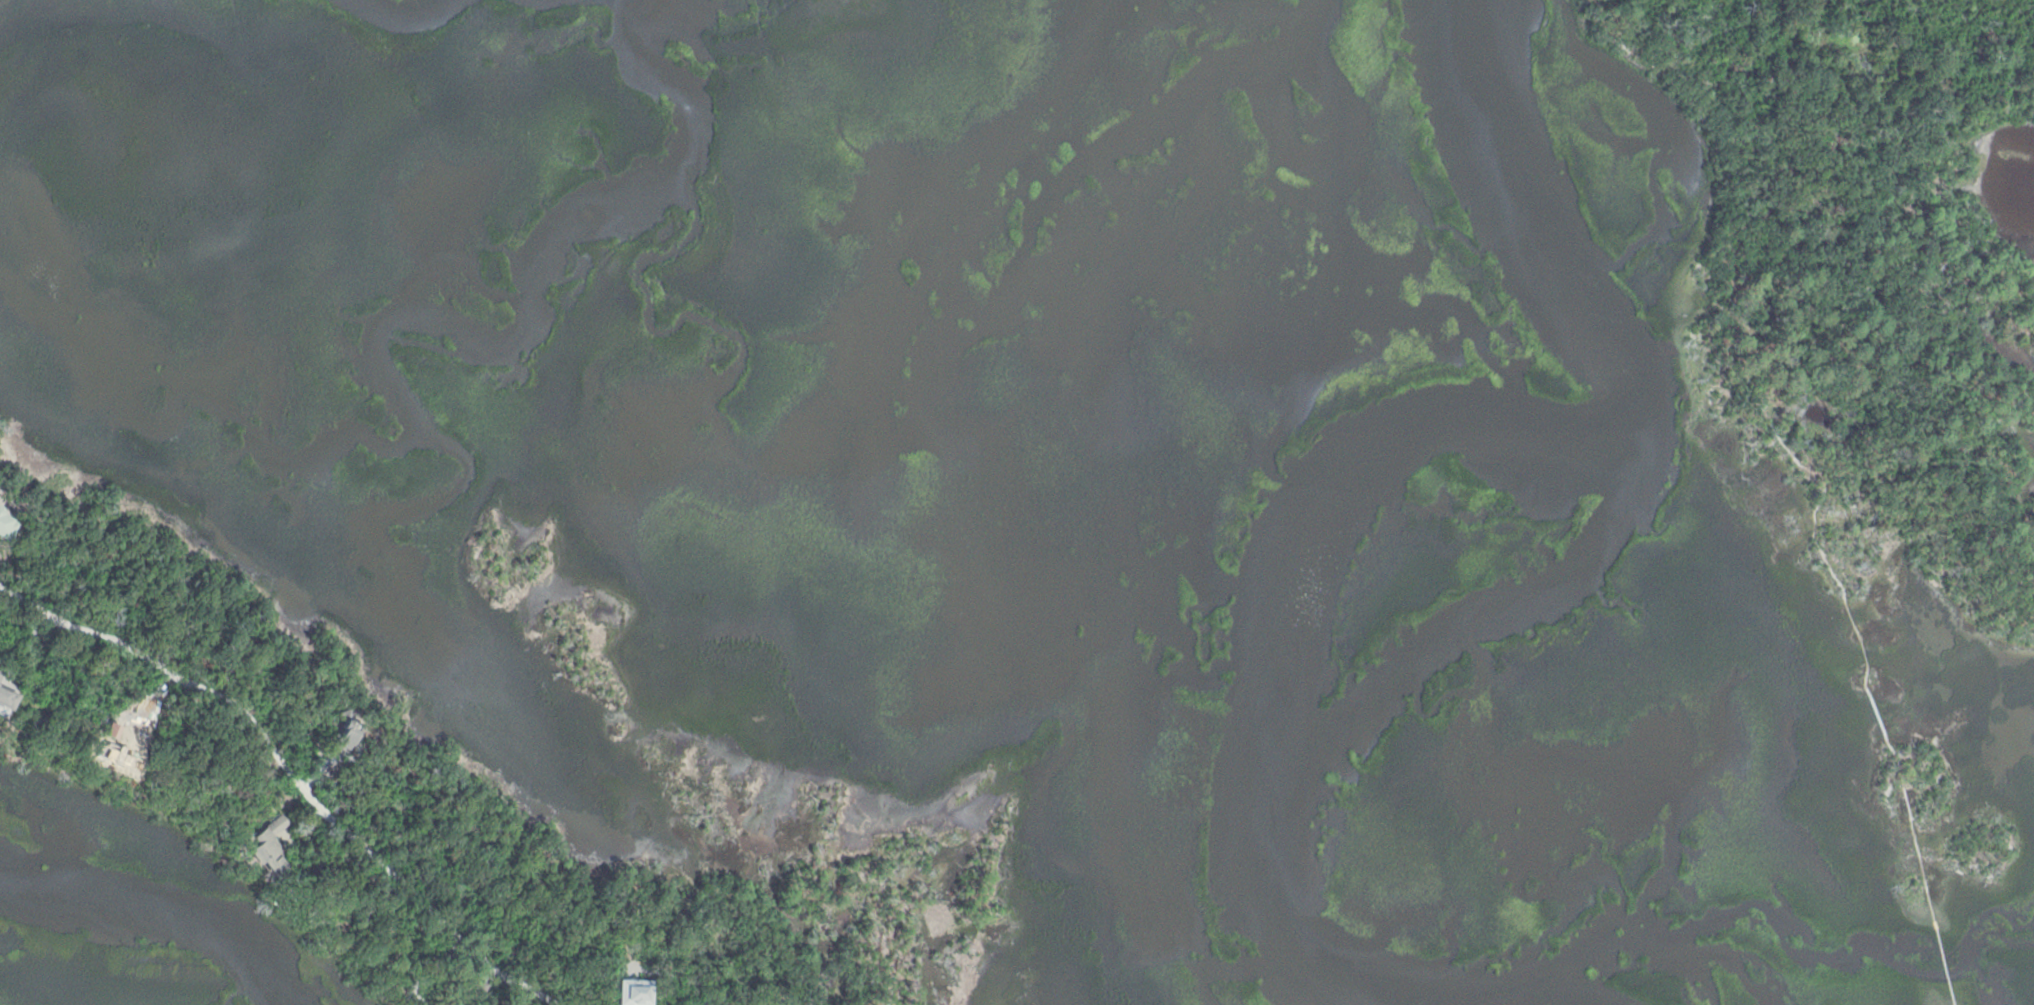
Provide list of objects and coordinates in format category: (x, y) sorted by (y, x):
building: (4, 530)
building: (2, 699)
building: (344, 733)
road: (282, 773)
building: (262, 841)
building: (478, 985)
building: (628, 991)

